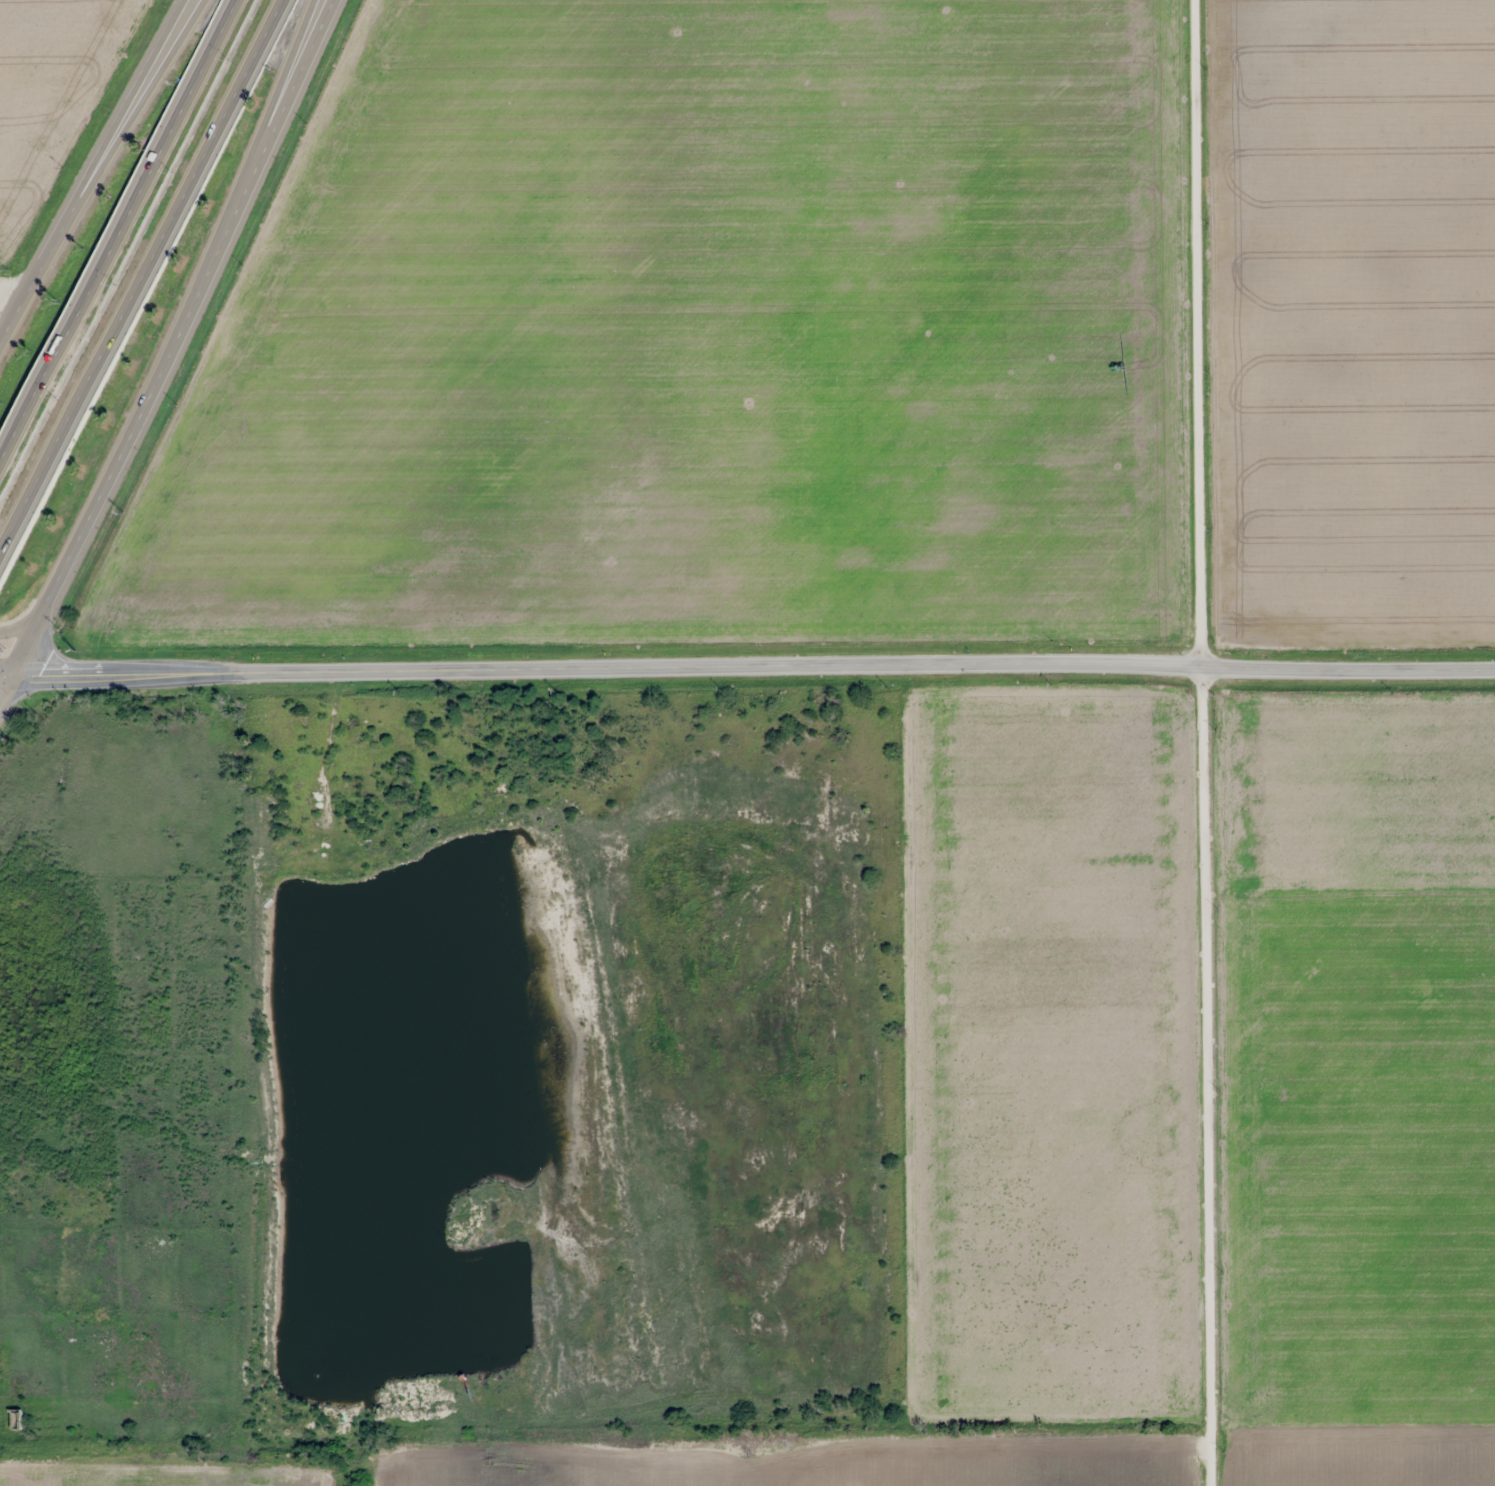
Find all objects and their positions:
road: (144, 90)
road: (285, 90)
road: (88, 172)
road: (116, 230)
road: (141, 280)
road: (15, 289)
road: (168, 349)
road: (21, 627)
road: (751, 669)
road: (4, 680)
road: (1207, 742)

